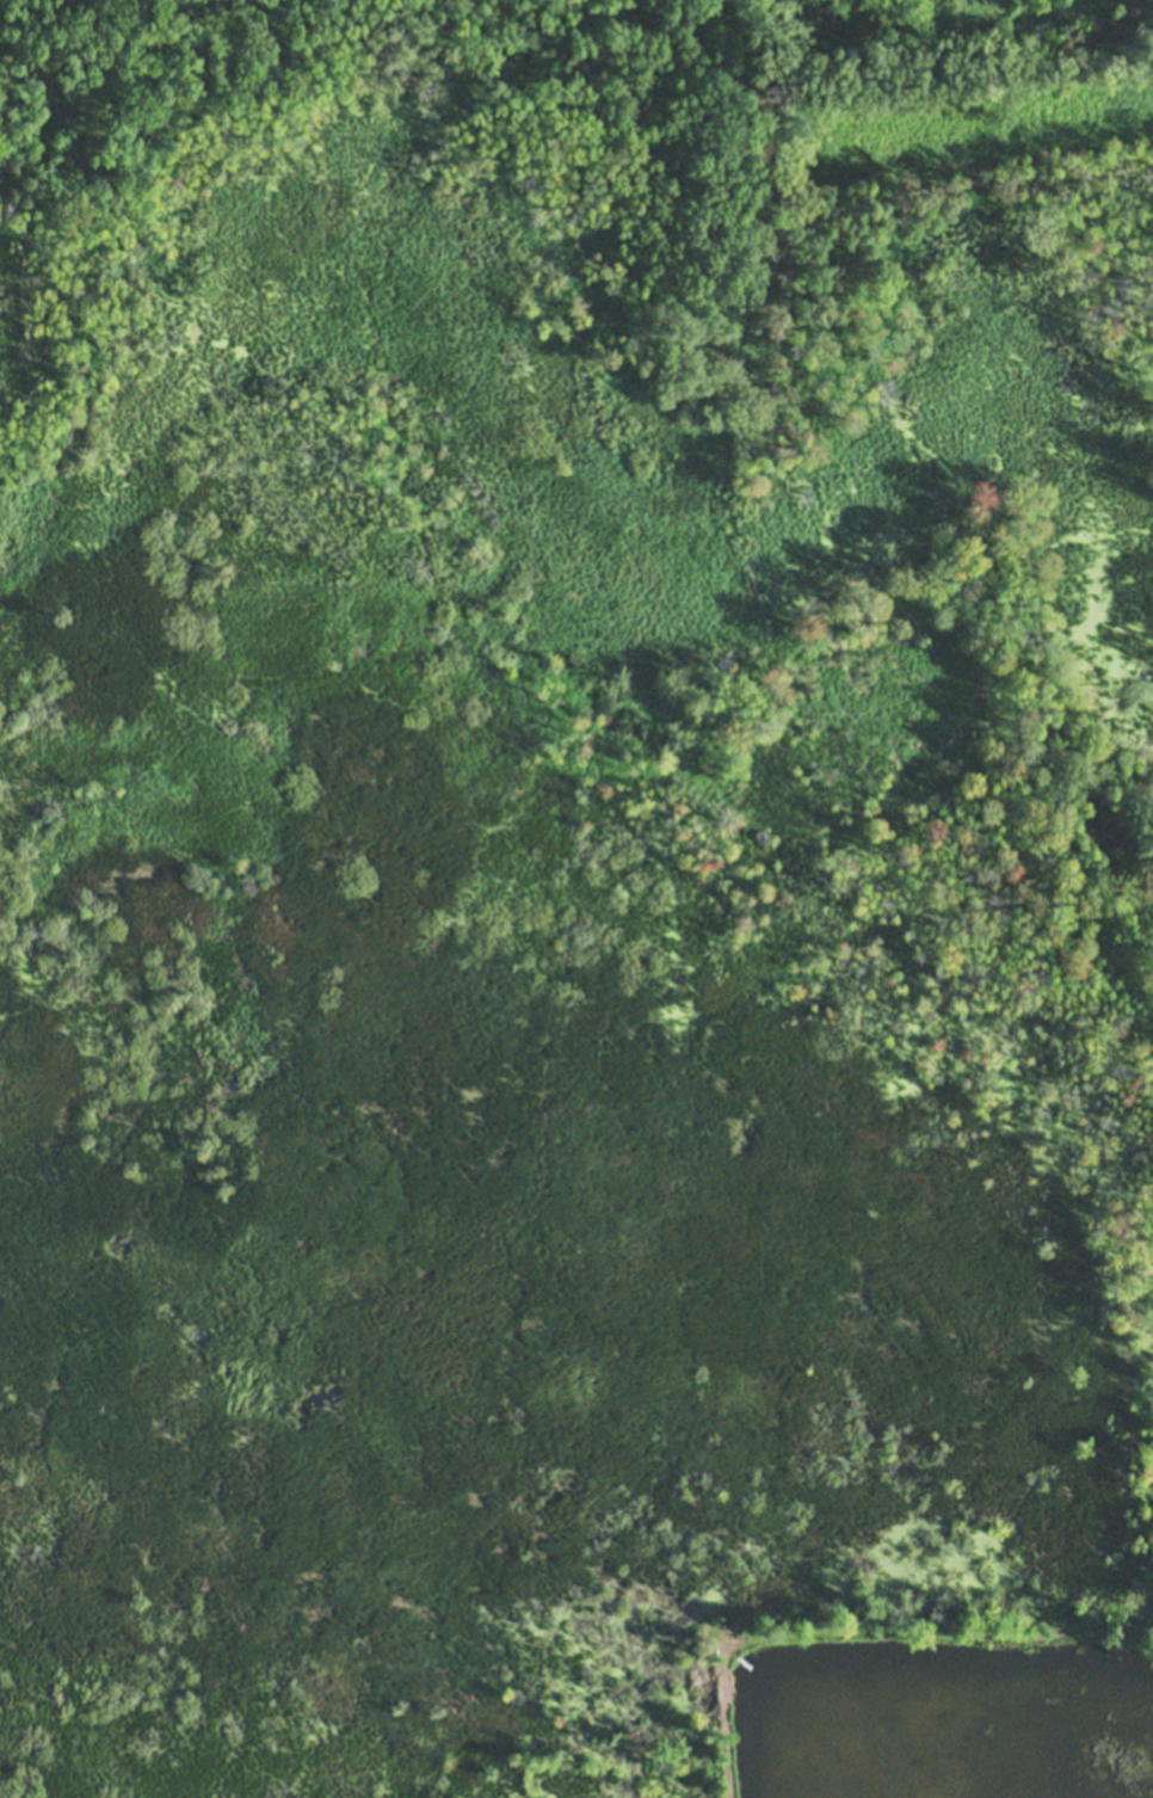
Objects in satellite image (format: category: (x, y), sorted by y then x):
road: (824, 10)

